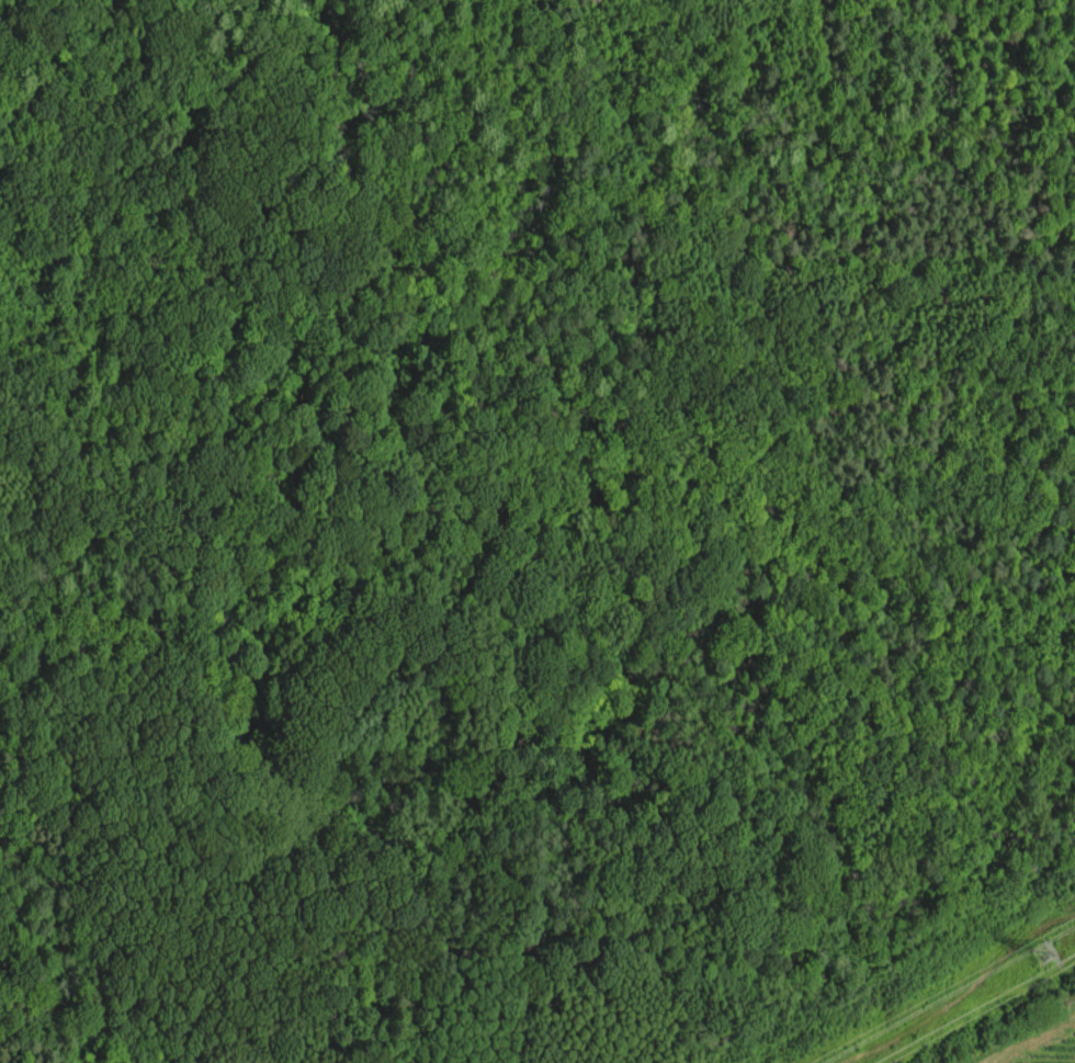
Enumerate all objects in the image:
power tower: (1042, 951)

